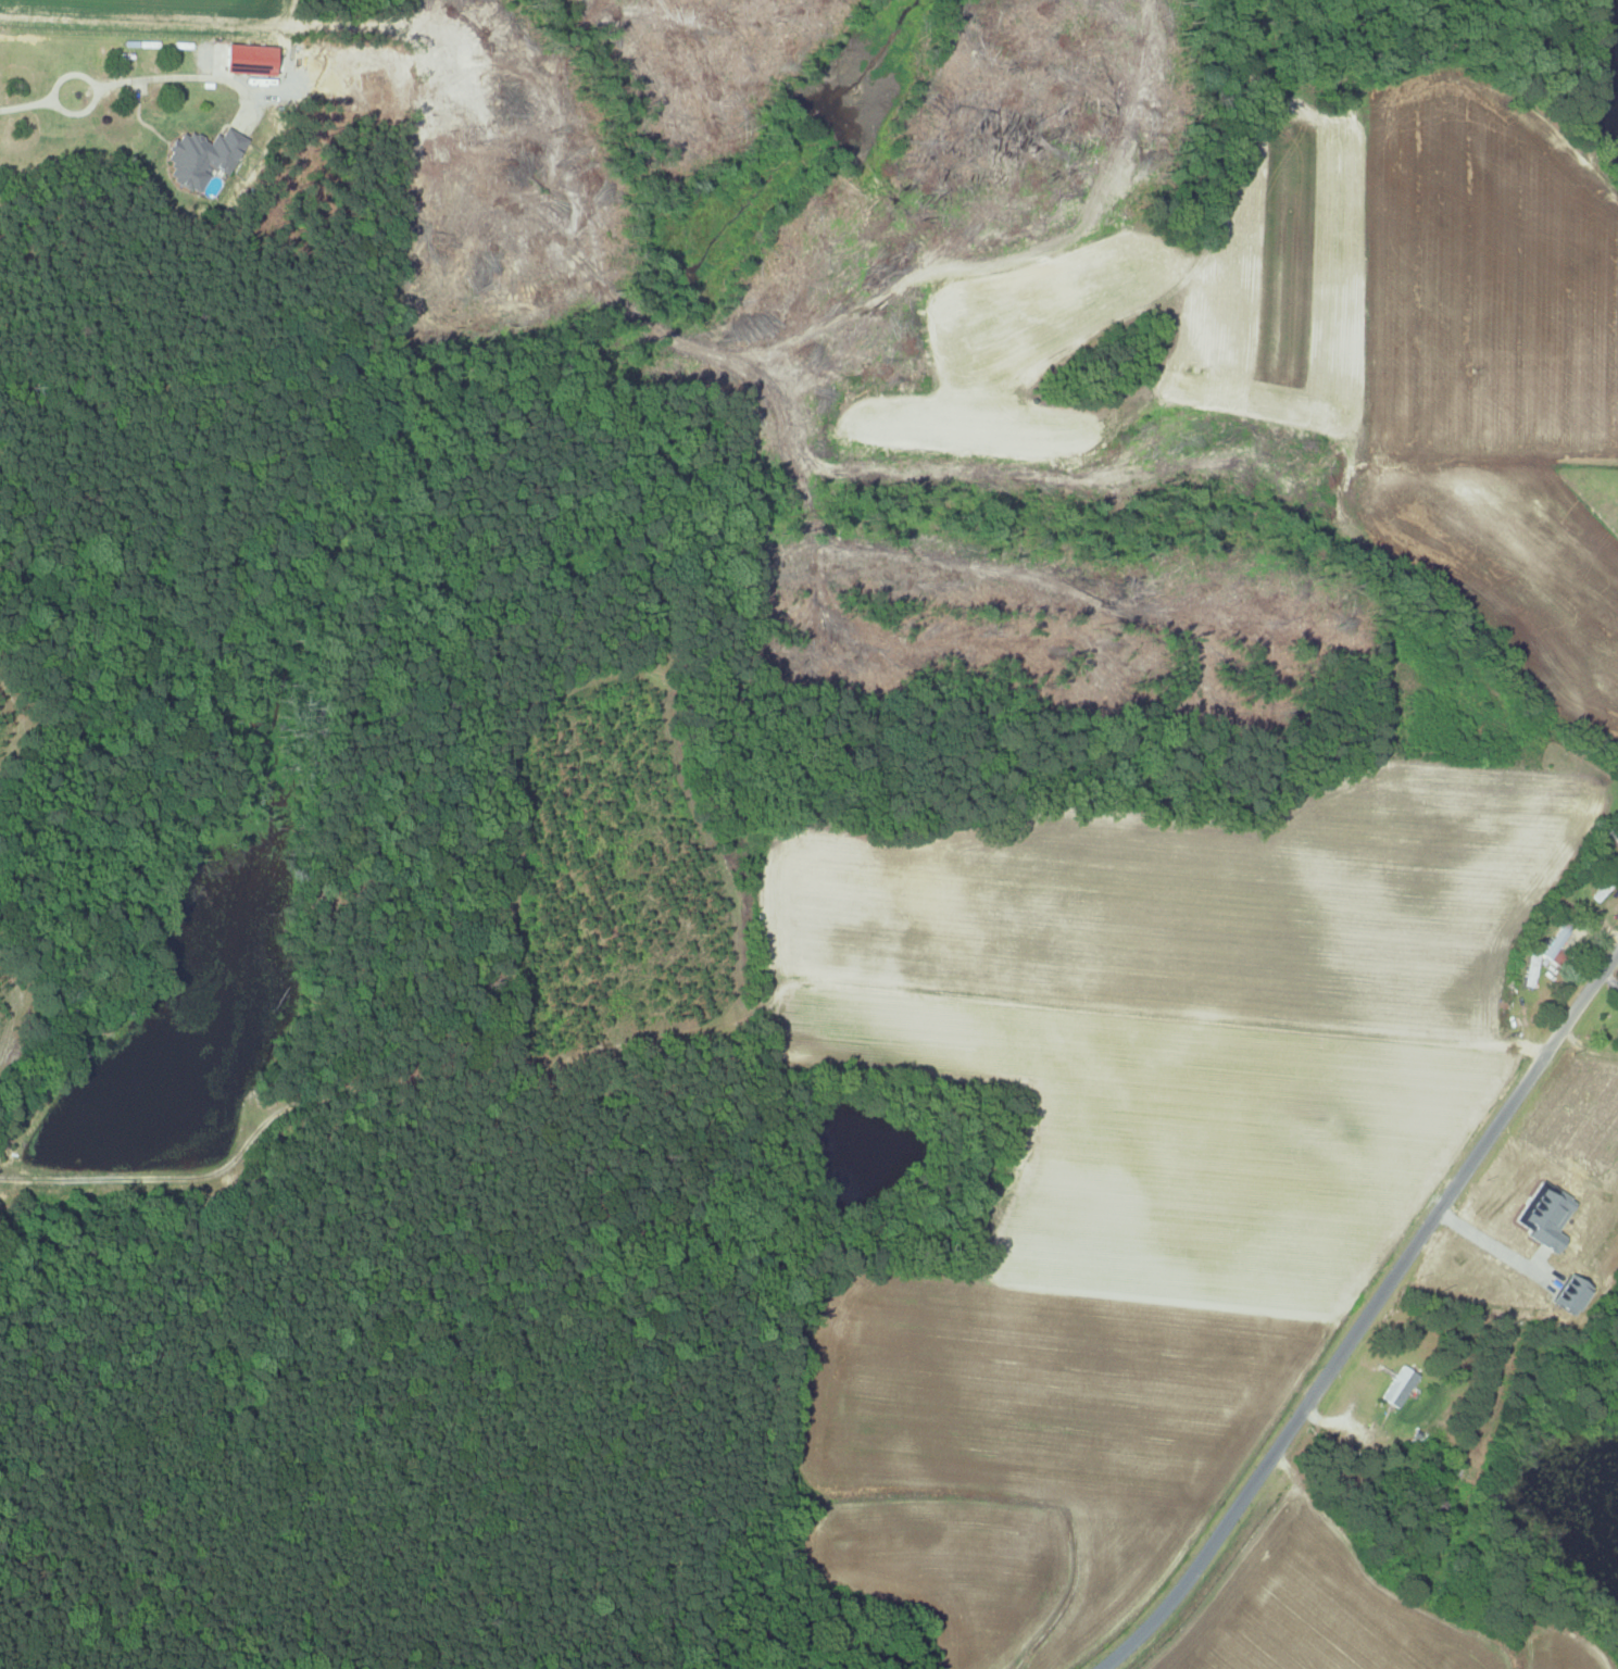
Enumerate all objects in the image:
building: (244, 59)
road: (130, 79)
building: (197, 156)
building: (1606, 887)
building: (1557, 939)
road: (1494, 1246)
road: (1366, 1317)
building: (1398, 1385)

